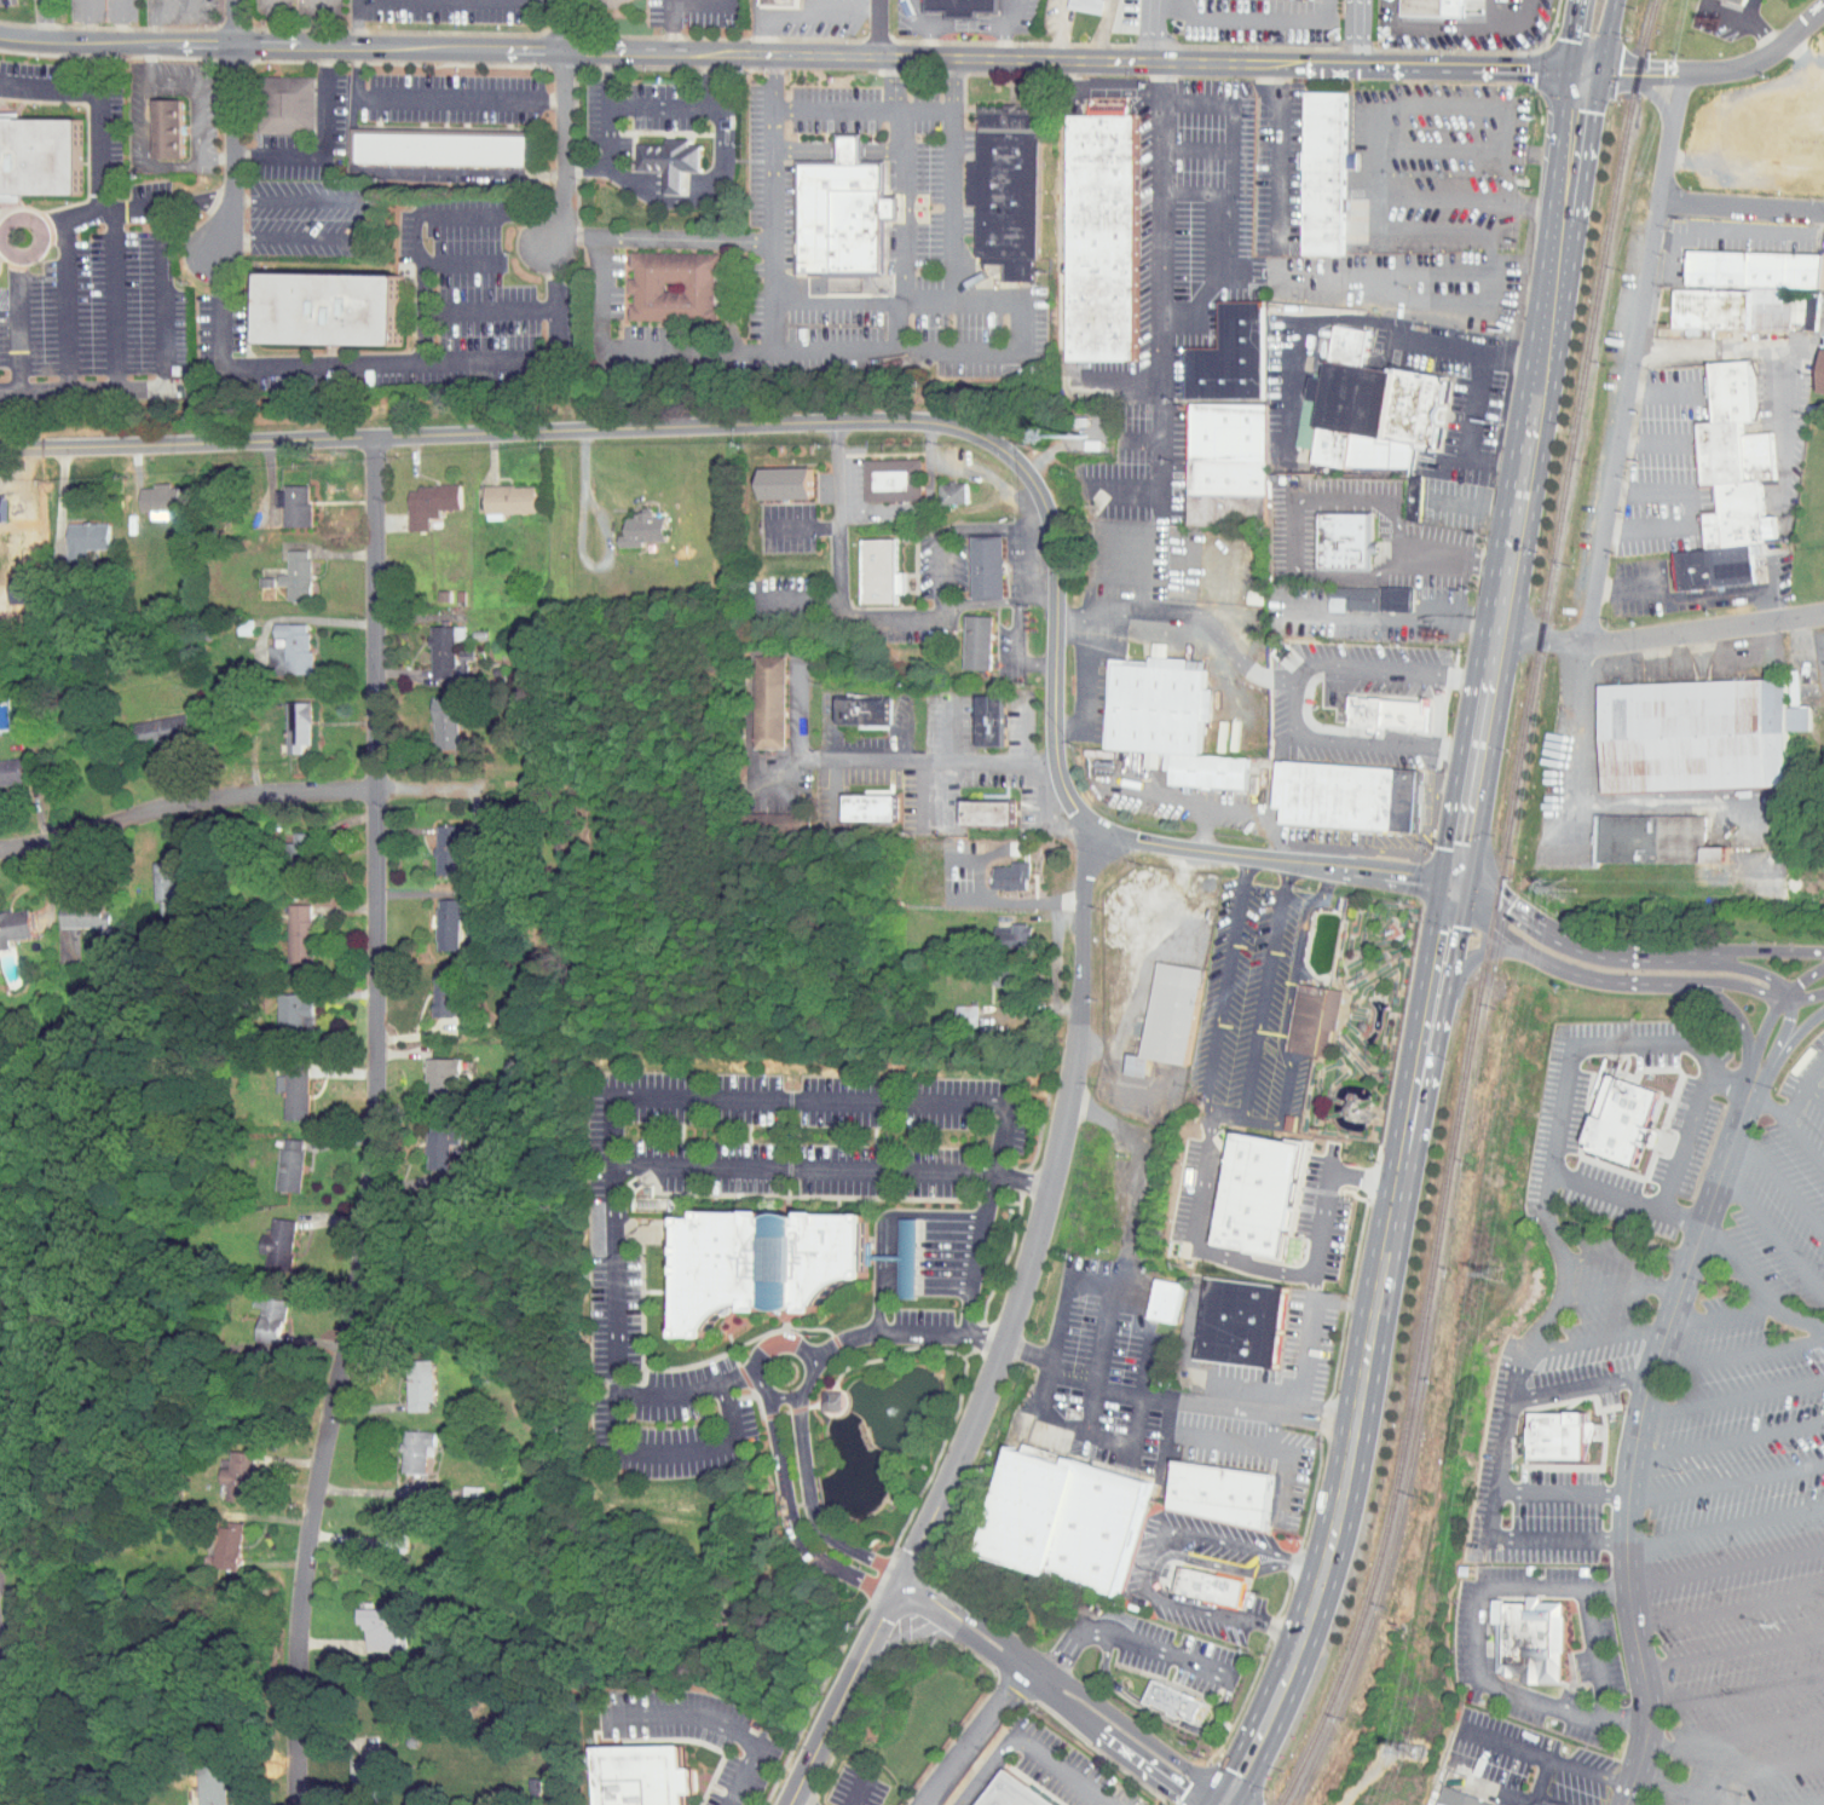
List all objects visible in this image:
road: (542, 0)
building: (780, 2)
building: (1074, 2)
road: (158, 5)
building: (963, 5)
building: (1436, 7)
road: (804, 10)
road: (1249, 13)
road: (41, 21)
road: (87, 22)
road: (123, 22)
road: (235, 22)
road: (276, 23)
road: (358, 23)
road: (669, 25)
road: (878, 25)
road: (928, 25)
road: (1432, 25)
road: (1507, 25)
road: (977, 27)
road: (1041, 28)
road: (1086, 29)
road: (1150, 30)
road: (1357, 33)
road: (1576, 38)
road: (1603, 40)
road: (790, 52)
road: (1710, 71)
traffic signals: (1581, 76)
road: (774, 80)
road: (896, 82)
road: (46, 90)
road: (1101, 90)
road: (201, 94)
road: (434, 99)
road: (679, 99)
road: (1657, 100)
building: (287, 105)
road: (1385, 105)
road: (798, 109)
road: (607, 111)
building: (152, 122)
road: (93, 125)
road: (564, 125)
building: (1742, 127)
road: (150, 145)
building: (440, 146)
road: (327, 148)
road: (839, 149)
road: (1196, 149)
road: (232, 150)
road: (905, 150)
building: (40, 154)
building: (656, 155)
road: (1277, 155)
building: (1823, 161)
road: (588, 171)
building: (1324, 173)
road: (691, 184)
road: (1196, 192)
road: (1228, 202)
road: (1741, 202)
building: (1009, 203)
road: (121, 204)
road: (415, 215)
building: (841, 215)
road: (370, 225)
road: (658, 237)
building: (1101, 237)
road: (904, 244)
road: (462, 263)
building: (1728, 281)
road: (1478, 283)
building: (674, 284)
road: (1162, 287)
road: (116, 298)
road: (864, 300)
road: (68, 305)
building: (1796, 306)
building: (329, 308)
road: (487, 313)
road: (1352, 319)
road: (13, 321)
road: (1731, 340)
road: (634, 345)
road: (1022, 348)
building: (1231, 356)
road: (382, 367)
road: (162, 369)
road: (1771, 371)
road: (1114, 381)
building: (1823, 381)
road: (1663, 391)
building: (1378, 411)
road: (706, 423)
road: (1468, 431)
road: (1141, 438)
road: (1653, 440)
road: (1615, 460)
road: (931, 465)
building: (1229, 465)
building: (878, 472)
building: (769, 475)
road: (1524, 480)
building: (939, 485)
road: (1122, 485)
building: (1728, 485)
building: (495, 491)
building: (145, 492)
building: (415, 496)
building: (279, 497)
road: (60, 502)
road: (887, 511)
road: (1690, 511)
building: (628, 521)
road: (1289, 524)
road: (803, 526)
road: (959, 530)
building: (71, 532)
road: (608, 541)
building: (1344, 542)
road: (1451, 557)
building: (974, 559)
building: (865, 564)
building: (282, 567)
road: (842, 569)
road: (1693, 595)
road: (800, 600)
road: (998, 600)
road: (1204, 621)
road: (1410, 622)
road: (1663, 630)
building: (963, 634)
building: (278, 639)
building: (432, 646)
road: (1021, 646)
road: (1086, 674)
building: (755, 694)
road: (1295, 697)
building: (849, 703)
building: (1387, 711)
building: (975, 713)
building: (431, 715)
building: (283, 719)
building: (1166, 720)
building: (146, 721)
building: (1695, 737)
road: (876, 759)
building: (6, 763)
road: (233, 792)
building: (1346, 798)
building: (856, 800)
building: (972, 805)
road: (1239, 808)
building: (763, 814)
building: (986, 840)
building: (1651, 840)
building: (434, 842)
building: (281, 852)
road: (1272, 858)
building: (997, 869)
building: (154, 877)
traffic signals: (1460, 884)
power tower: (1562, 889)
building: (71, 906)
railway: (1494, 910)
building: (7, 916)
building: (434, 917)
building: (285, 925)
building: (1002, 929)
road: (1131, 955)
road: (1633, 955)
road: (1743, 967)
building: (989, 968)
road: (1465, 968)
road: (1605, 979)
road: (1802, 980)
building: (433, 985)
road: (1264, 990)
road: (1805, 996)
building: (279, 1003)
building: (952, 1008)
road: (1731, 1013)
building: (1174, 1014)
building: (1314, 1020)
road: (1762, 1027)
road: (1777, 1044)
road: (1784, 1046)
building: (428, 1068)
road: (1813, 1068)
road: (1750, 1075)
road: (1732, 1078)
building: (279, 1085)
road: (1814, 1091)
road: (809, 1100)
road: (1794, 1101)
road: (1766, 1105)
road: (1742, 1111)
road: (1093, 1115)
building: (1618, 1118)
road: (1249, 1120)
road: (371, 1121)
building: (427, 1136)
road: (1803, 1146)
building: (276, 1158)
road: (995, 1159)
road: (1679, 1160)
road: (803, 1169)
road: (1021, 1182)
road: (1778, 1184)
road: (1605, 1190)
building: (1259, 1194)
road: (1126, 1204)
road: (942, 1213)
road: (1043, 1216)
road: (1770, 1234)
building: (264, 1235)
road: (1193, 1241)
building: (891, 1251)
road: (1626, 1251)
road: (1315, 1257)
building: (763, 1259)
road: (881, 1267)
road: (1737, 1268)
road: (614, 1271)
power tower: (1497, 1274)
road: (974, 1275)
road: (1562, 1288)
road: (1141, 1291)
road: (1618, 1292)
building: (1150, 1293)
building: (1166, 1298)
road: (1343, 1304)
building: (256, 1310)
road: (1719, 1316)
road: (1800, 1319)
building: (1241, 1321)
road: (900, 1333)
road: (1592, 1339)
road: (1737, 1353)
road: (1367, 1354)
road: (1104, 1356)
building: (404, 1378)
road: (1581, 1385)
road: (688, 1391)
road: (795, 1392)
building: (816, 1394)
road: (1732, 1394)
building: (830, 1399)
road: (1245, 1408)
road: (1083, 1425)
building: (1557, 1434)
road: (1727, 1438)
road: (1196, 1440)
building: (402, 1443)
road: (706, 1449)
road: (1287, 1455)
road: (1629, 1464)
building: (224, 1470)
road: (1725, 1482)
parking lot: (1747, 1484)
road: (1563, 1490)
building: (1220, 1492)
building: (1062, 1517)
road: (790, 1522)
road: (818, 1524)
road: (1725, 1526)
building: (214, 1539)
road: (1168, 1555)
road: (1150, 1563)
road: (1726, 1567)
building: (1211, 1585)
road: (1553, 1587)
road: (896, 1588)
road: (907, 1599)
road: (1728, 1608)
building: (364, 1622)
road: (1477, 1632)
road: (1121, 1638)
building: (1528, 1639)
road: (1733, 1651)
road: (1598, 1655)
road: (1076, 1690)
road: (1736, 1690)
road: (841, 1700)
building: (1173, 1700)
road: (1536, 1700)
road: (1058, 1703)
road: (1161, 1712)
road: (1621, 1719)
road: (720, 1724)
road: (977, 1731)
road: (1733, 1732)
road: (1028, 1741)
power tower: (1418, 1751)
road: (1526, 1752)
building: (350, 1767)
road: (1589, 1772)
road: (1750, 1775)
building: (641, 1776)
building: (197, 1781)
road: (858, 1790)
road: (1678, 1790)
building: (1018, 1792)
traffic signals: (1222, 1793)
road: (1229, 1799)
building: (1458, 1799)
road: (1549, 1799)
building: (1410, 1801)
road: (791, 1804)
road: (1818, 1804)

